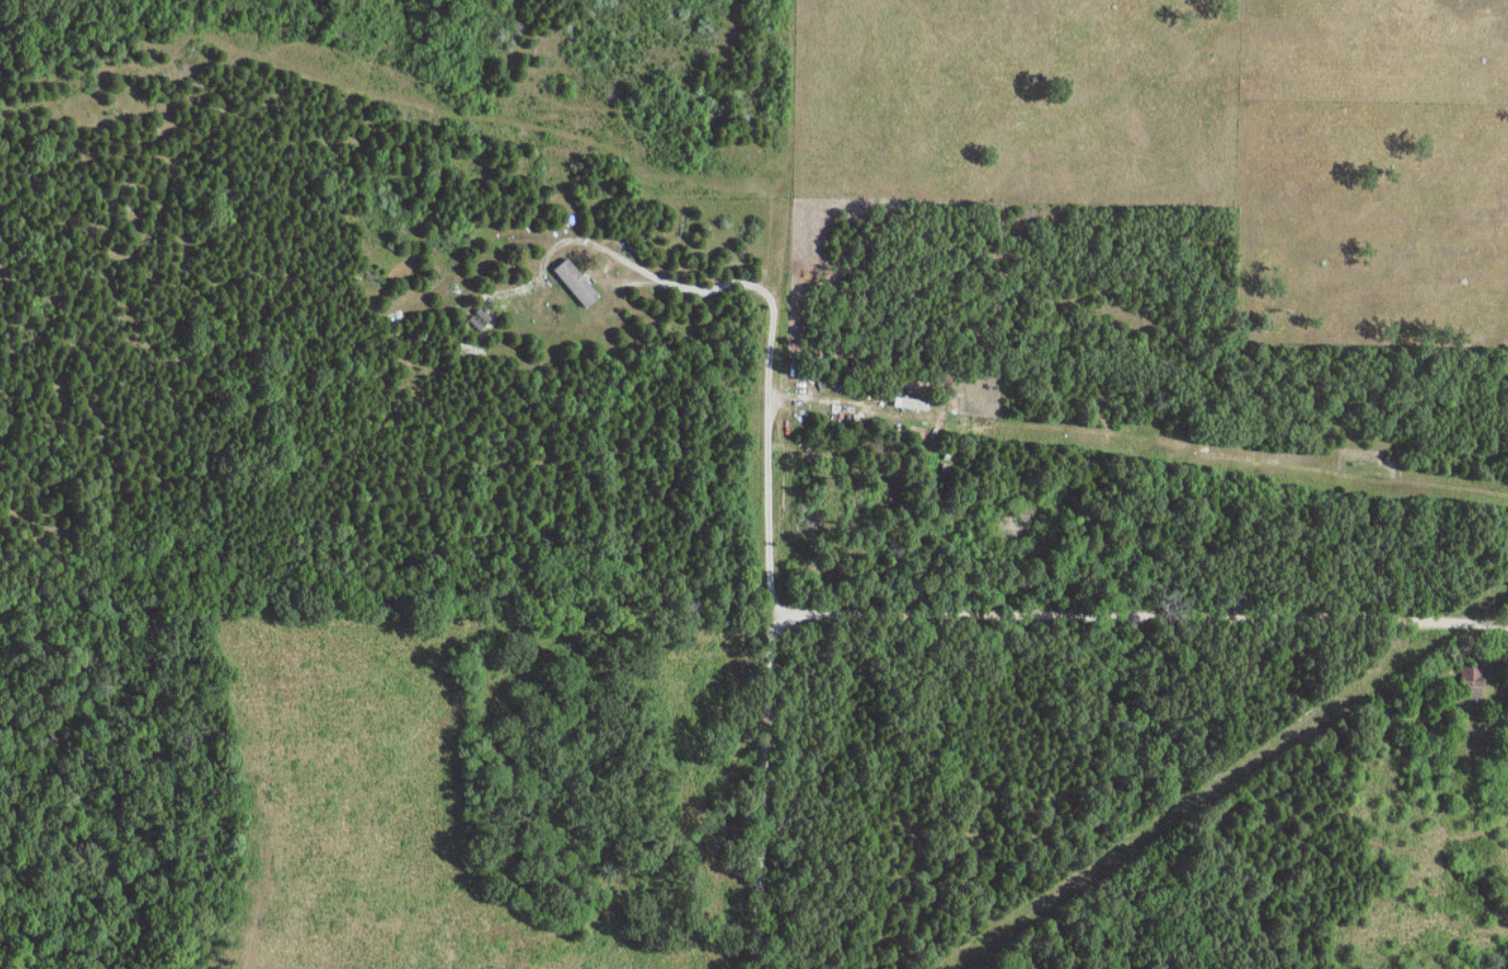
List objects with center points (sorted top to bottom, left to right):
building: (577, 283)
building: (480, 319)
road: (772, 338)
road: (821, 402)
road: (973, 611)
building: (1473, 678)

